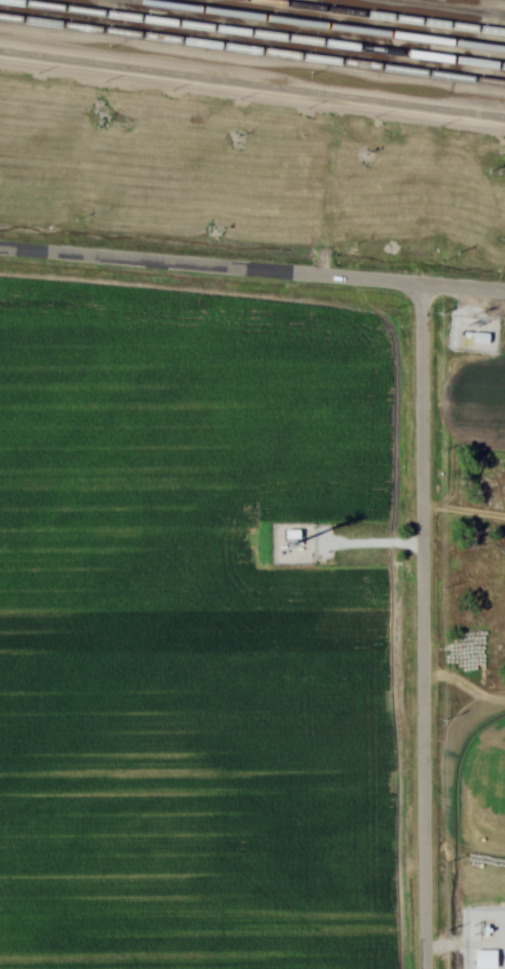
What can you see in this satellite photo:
railway: (447, 7)
railway: (388, 15)
railway: (321, 24)
railway: (252, 33)
railway: (252, 48)
road: (98, 75)
railway: (252, 83)
road: (252, 271)
crop: (477, 397)
road: (422, 628)
crop: (479, 763)
building: (490, 959)

